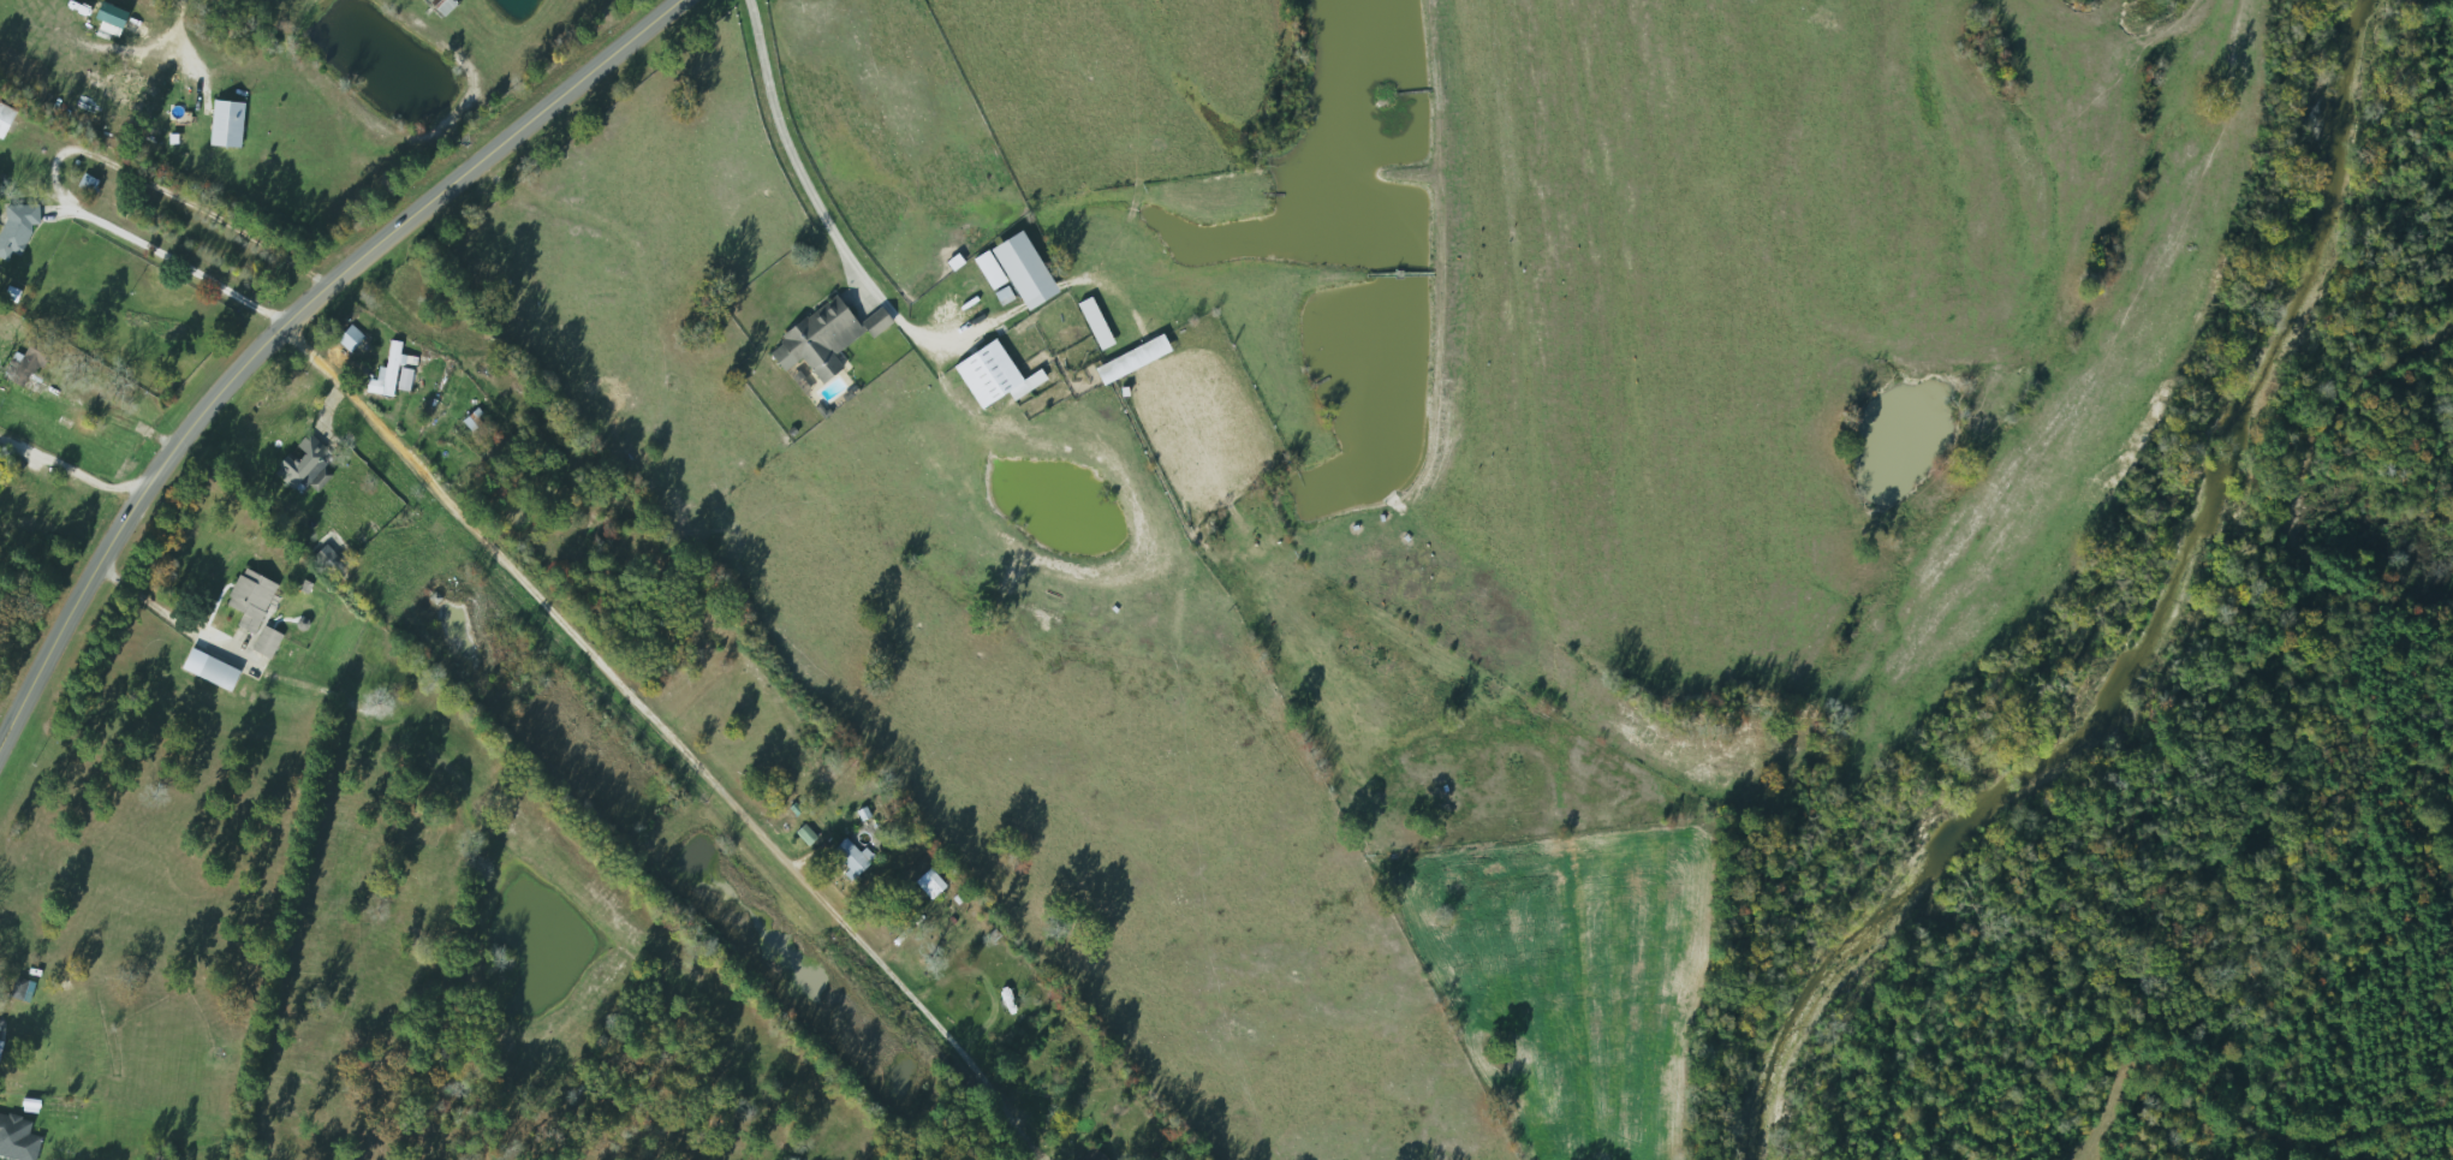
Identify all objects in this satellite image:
building: (109, 25)
building: (2, 113)
building: (167, 124)
building: (13, 227)
building: (1010, 269)
road: (281, 322)
building: (818, 334)
building: (345, 338)
building: (1129, 357)
building: (385, 369)
building: (982, 374)
building: (28, 385)
building: (298, 466)
building: (244, 599)
building: (261, 642)
building: (210, 673)
road: (627, 697)
building: (800, 834)
building: (844, 858)
building: (17, 991)

